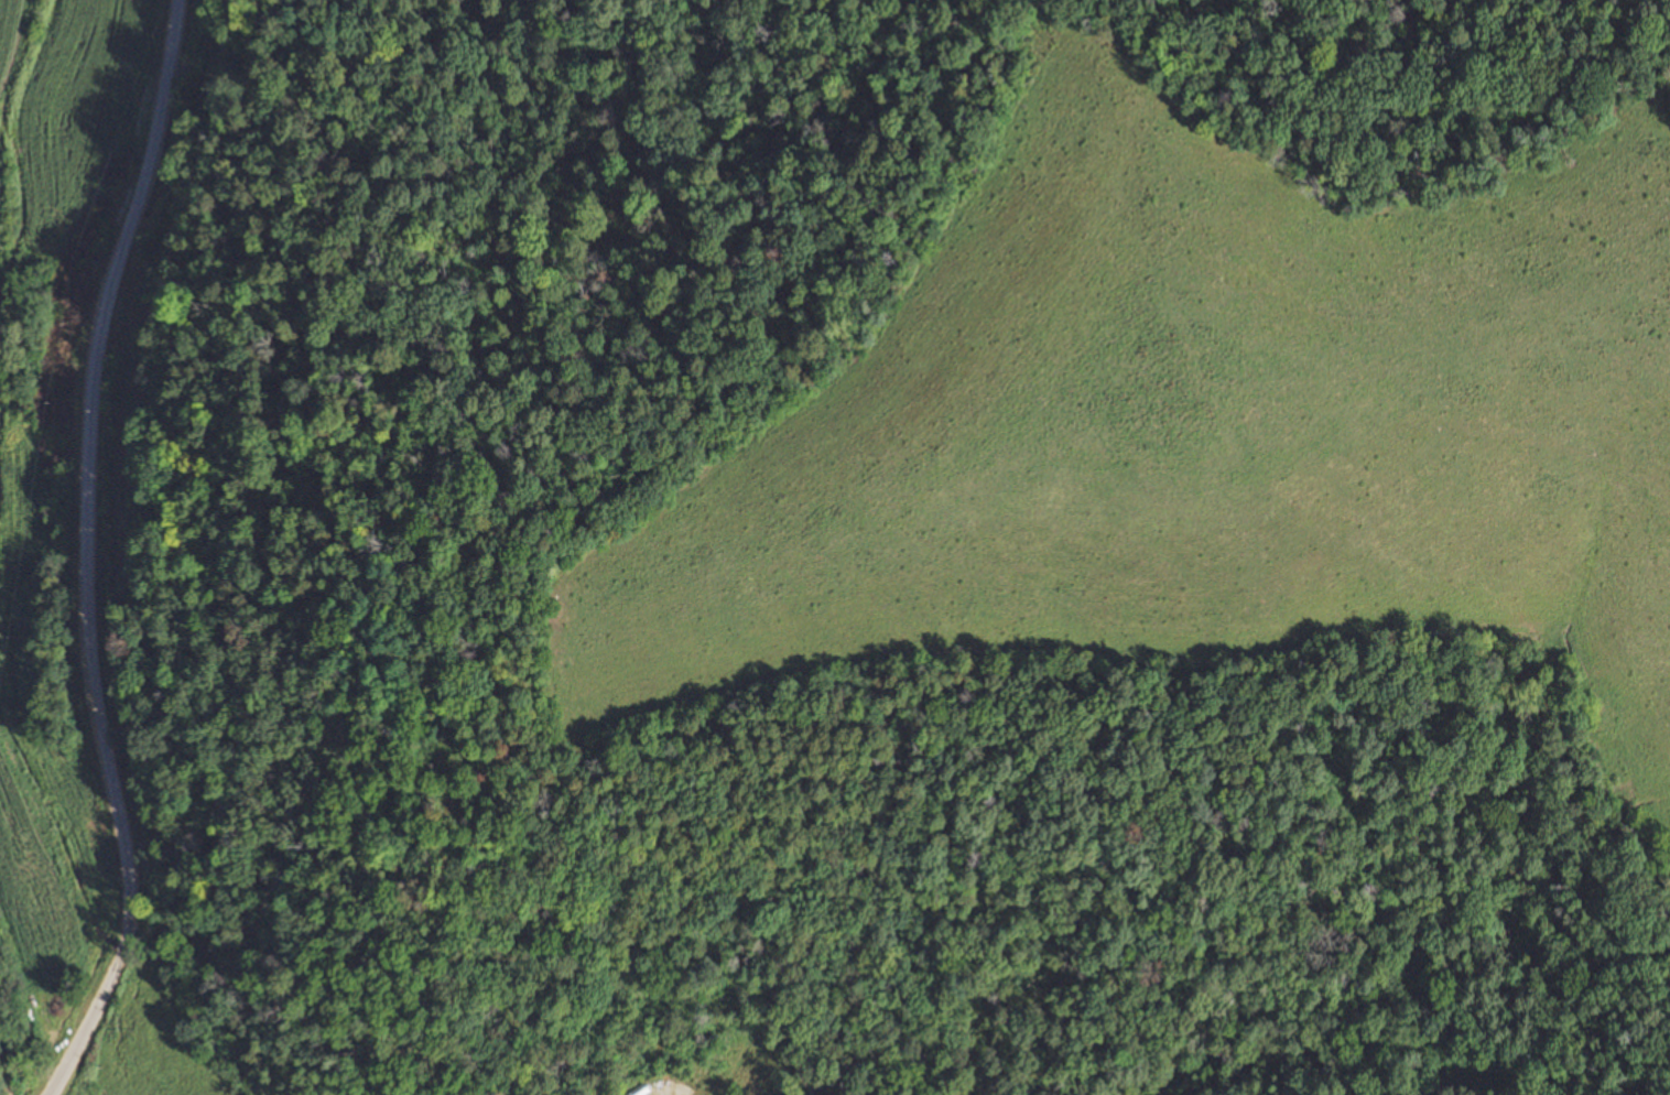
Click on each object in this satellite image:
road: (133, 549)

